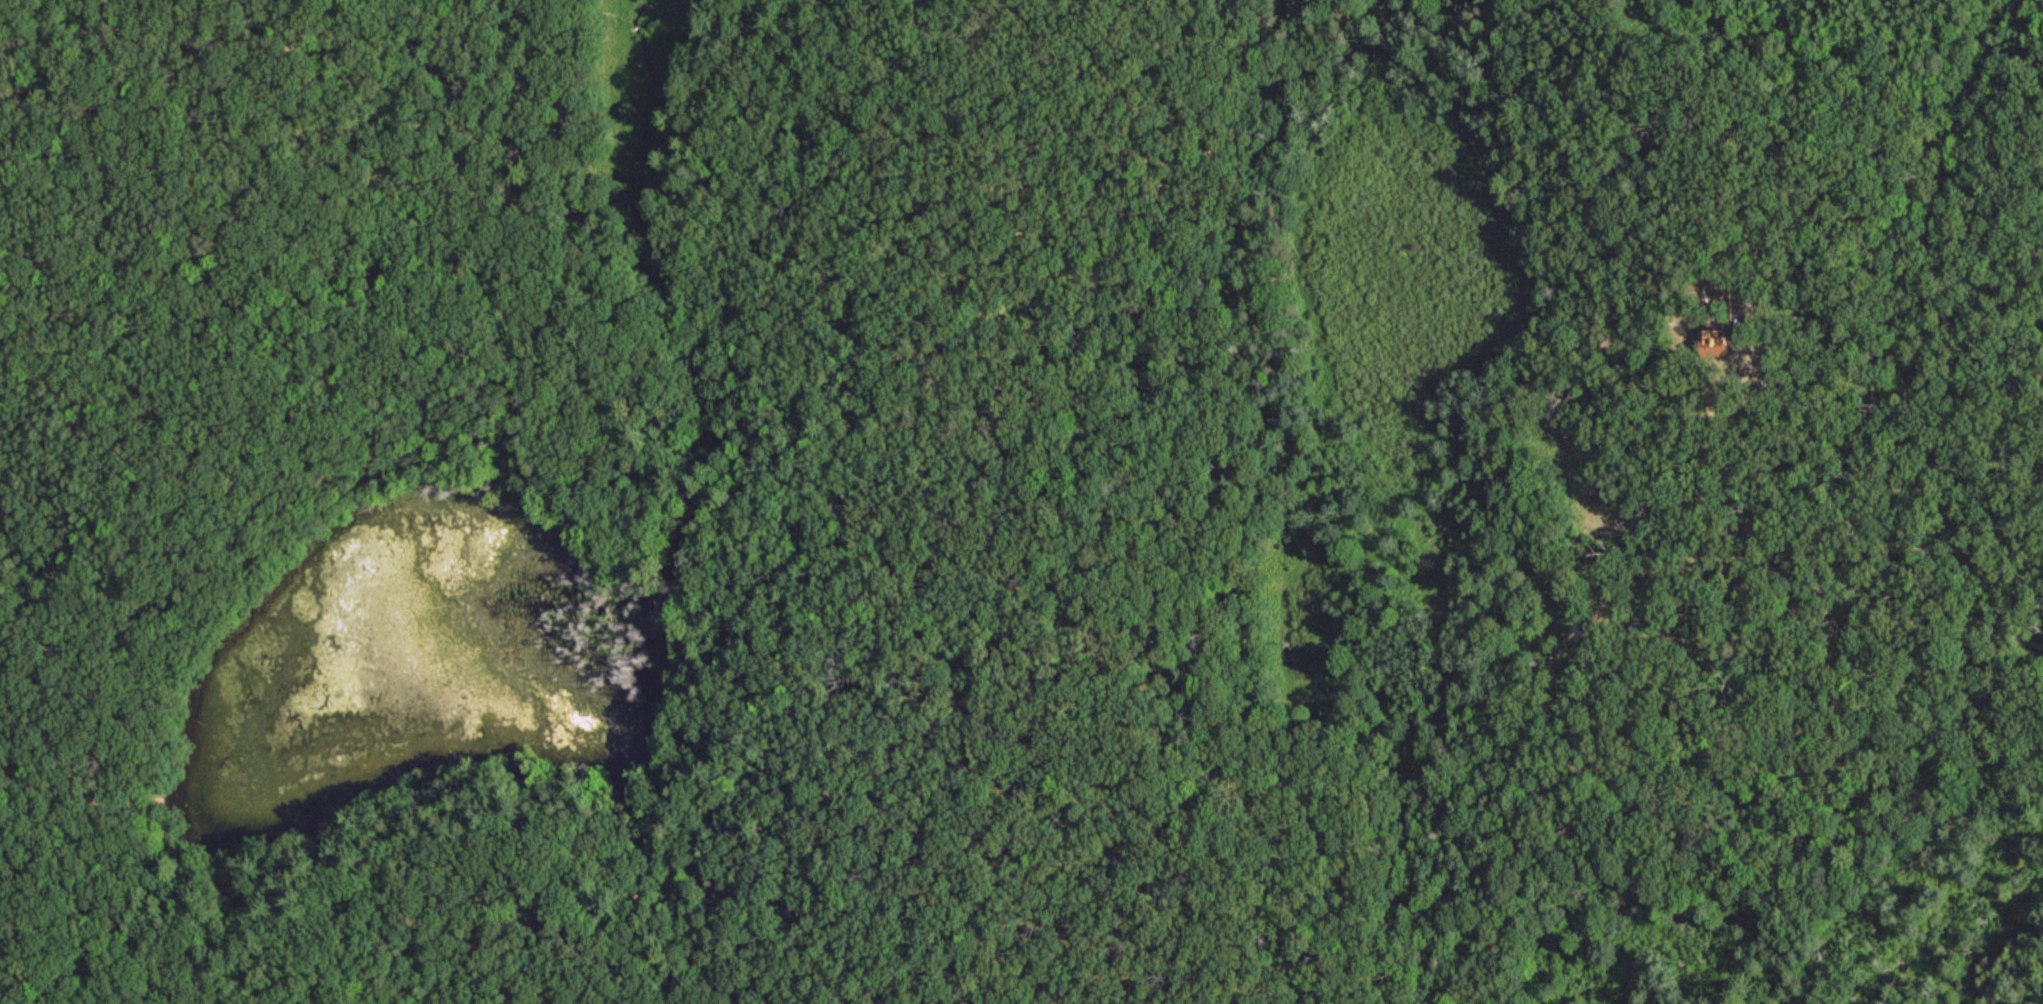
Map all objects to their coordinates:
building: (1759, 302)

